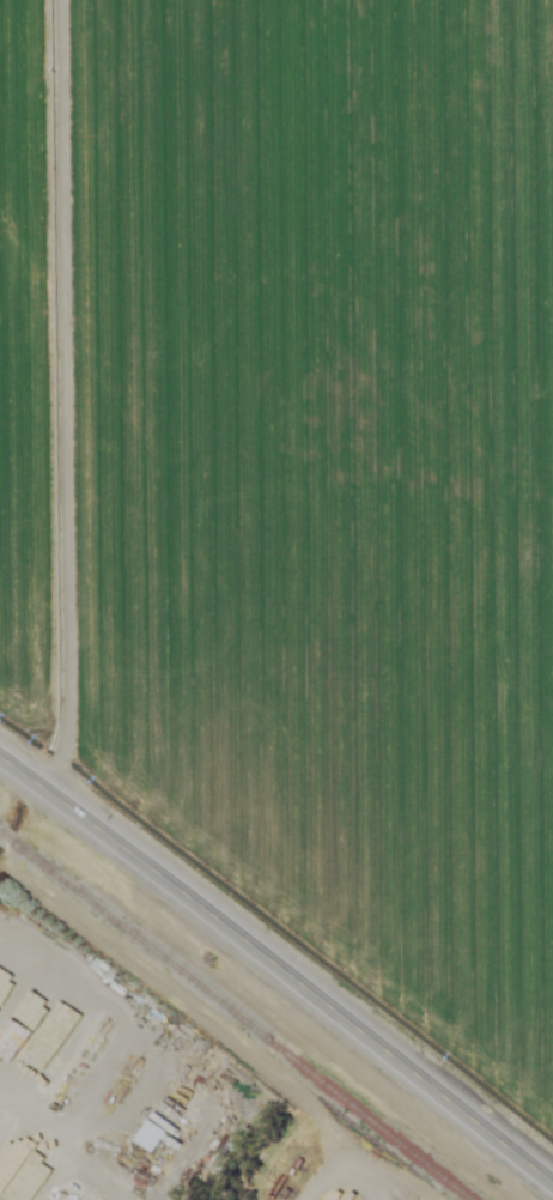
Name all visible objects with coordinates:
crop: (265, 10)
crop: (297, 480)
railway: (8, 841)
road: (278, 969)
building: (47, 996)
railway: (244, 1022)
building: (146, 1135)

